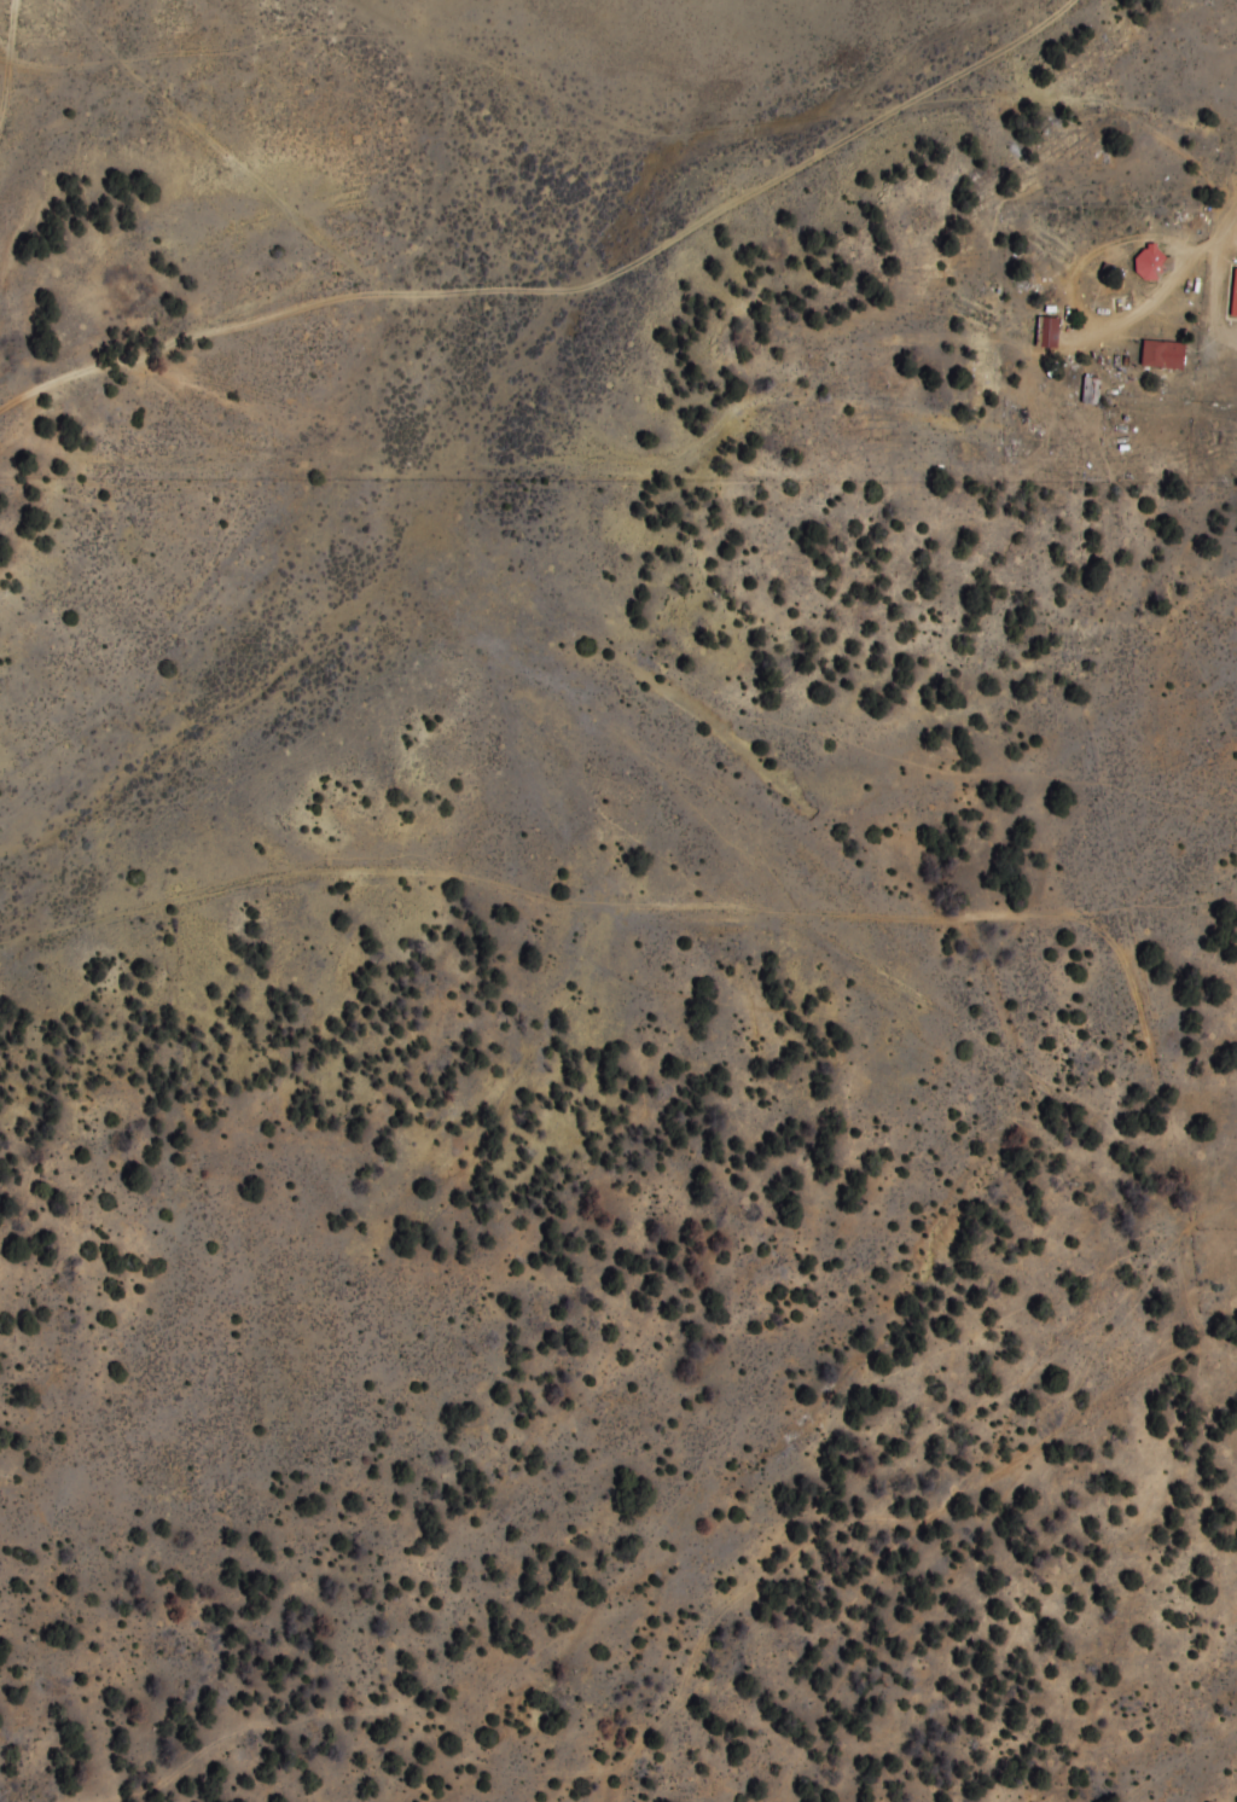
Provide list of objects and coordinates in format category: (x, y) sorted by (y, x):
building: (1150, 263)
building: (1232, 295)
road: (1209, 298)
building: (1045, 332)
building: (1161, 354)
building: (1091, 390)
road: (779, 949)

